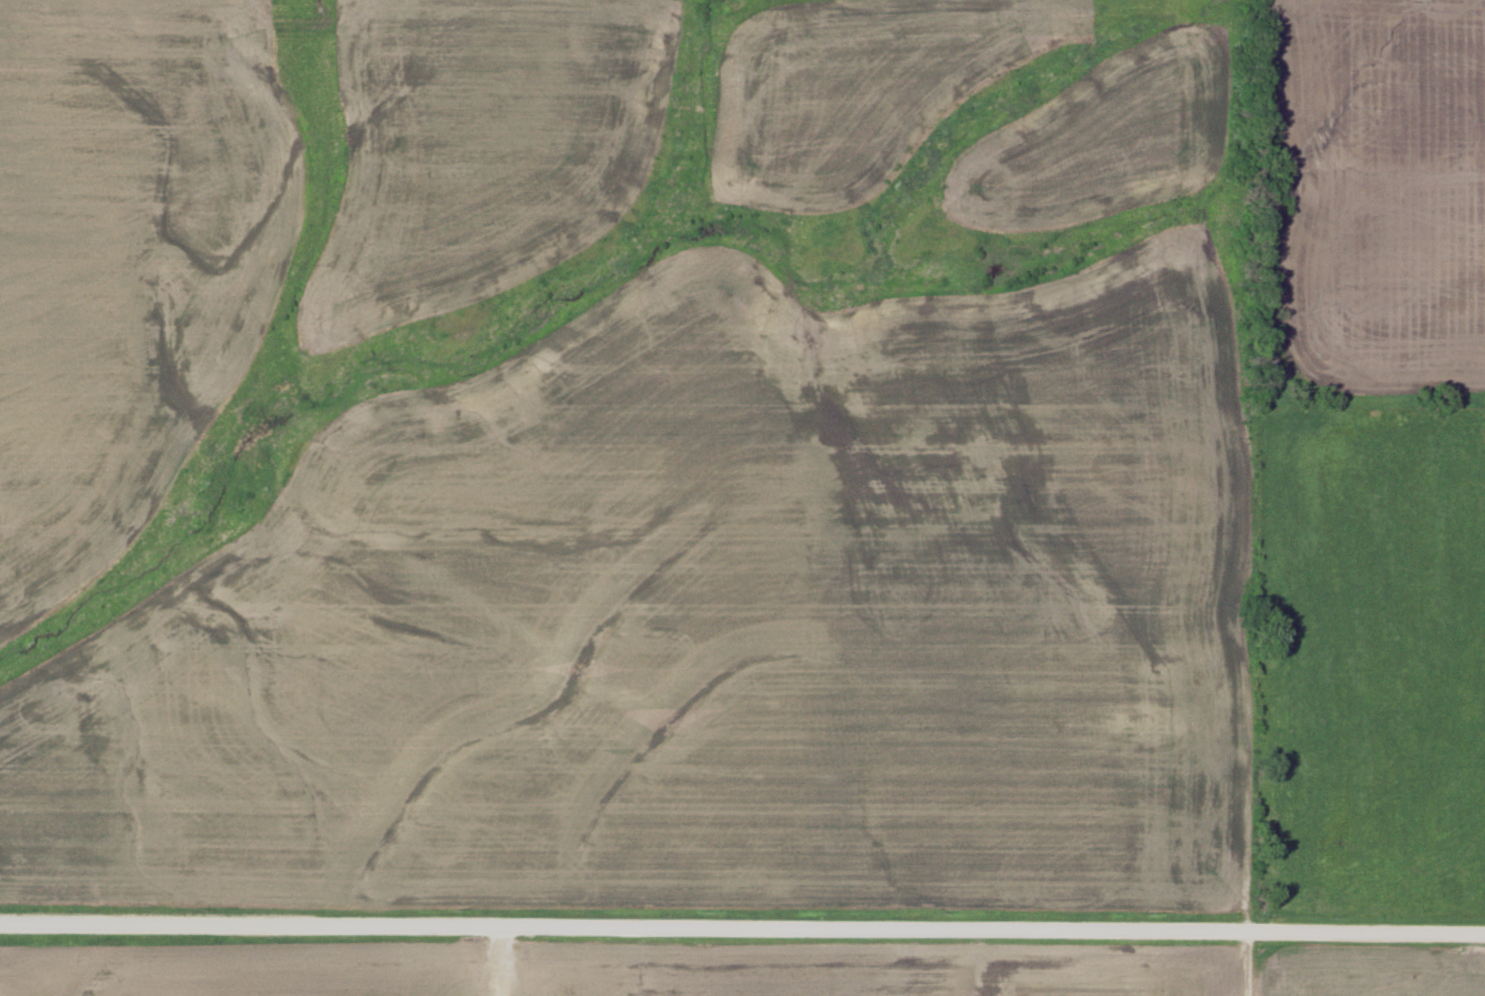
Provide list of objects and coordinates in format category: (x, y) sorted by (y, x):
road: (742, 927)

